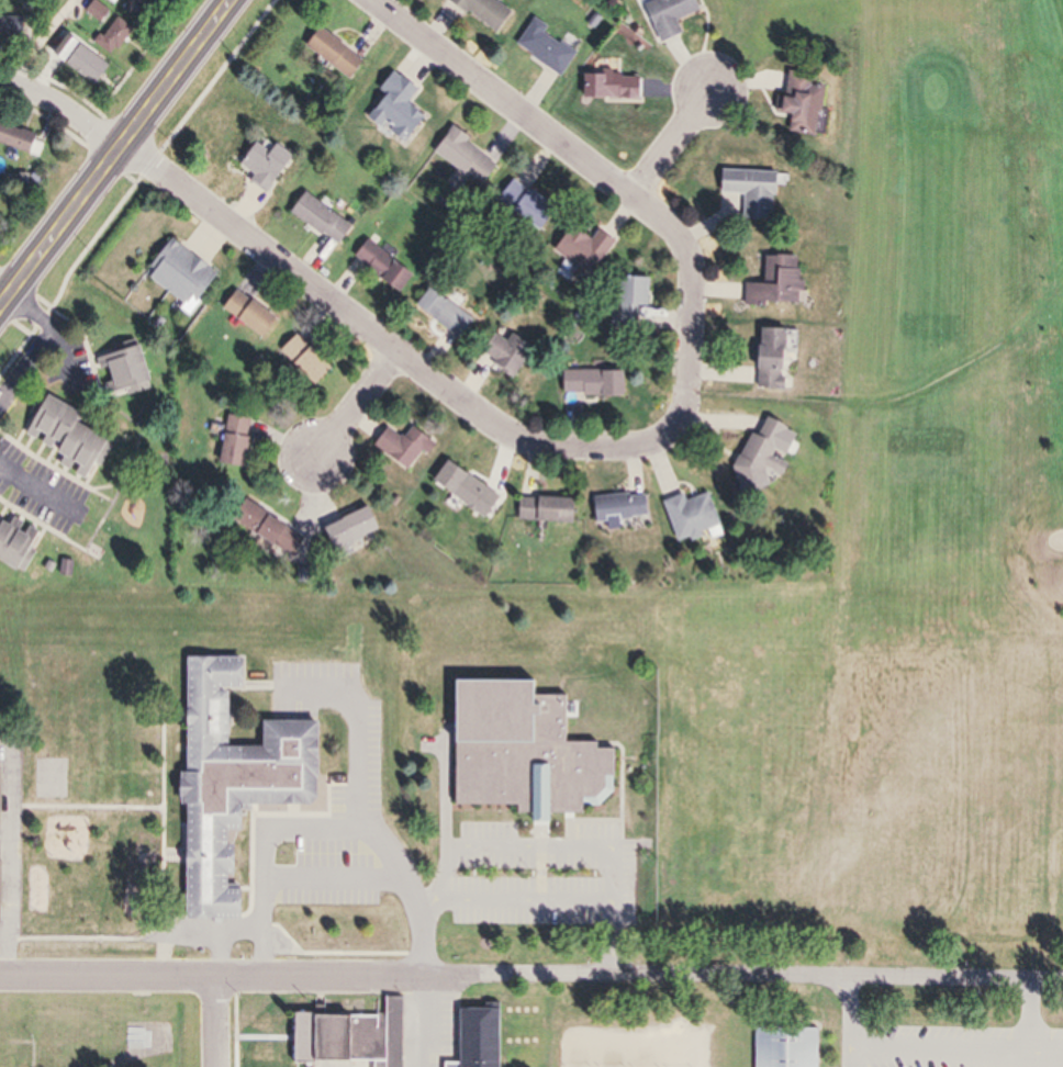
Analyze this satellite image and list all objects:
building: (142, 8)
building: (481, 11)
road: (63, 13)
building: (107, 15)
building: (665, 16)
building: (13, 27)
building: (120, 35)
building: (542, 48)
building: (331, 55)
building: (96, 67)
building: (607, 88)
building: (797, 105)
road: (65, 110)
building: (393, 110)
building: (21, 137)
road: (672, 144)
road: (119, 156)
building: (462, 158)
building: (261, 165)
road: (616, 183)
building: (749, 192)
building: (519, 203)
building: (317, 220)
building: (580, 252)
building: (379, 267)
building: (178, 273)
building: (773, 284)
road: (5, 295)
building: (627, 301)
building: (246, 314)
building: (441, 314)
road: (58, 333)
road: (372, 336)
building: (502, 353)
building: (768, 359)
building: (301, 360)
building: (119, 370)
road: (33, 380)
building: (590, 383)
road: (351, 405)
building: (63, 441)
building: (232, 441)
building: (400, 448)
building: (757, 456)
building: (461, 490)
road: (44, 498)
building: (617, 507)
building: (541, 509)
building: (687, 516)
building: (266, 530)
building: (344, 531)
building: (12, 543)
park: (807, 618)
building: (519, 752)
building: (227, 783)
building: (3, 790)
road: (332, 821)
road: (13, 845)
building: (4, 886)
road: (548, 898)
road: (226, 939)
road: (530, 974)
road: (1027, 1011)
road: (424, 1021)
road: (216, 1023)
parking lot: (950, 1030)
park: (538, 1031)
building: (347, 1037)
building: (474, 1037)
road: (929, 1040)
building: (784, 1047)

